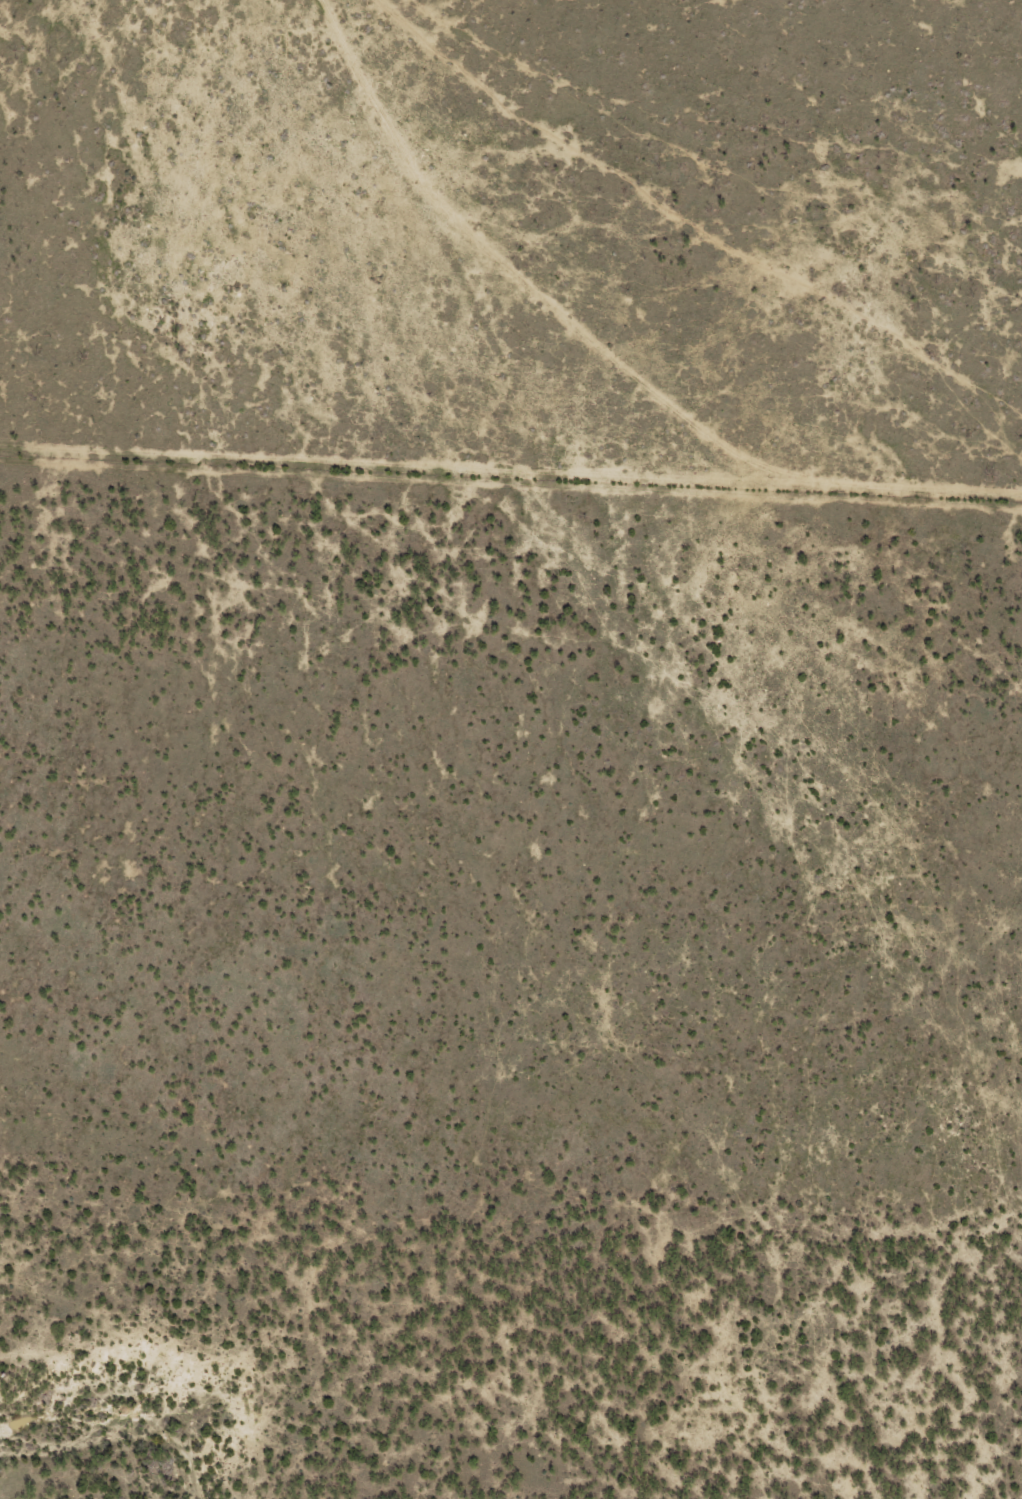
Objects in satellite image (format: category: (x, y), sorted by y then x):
road: (628, 560)

